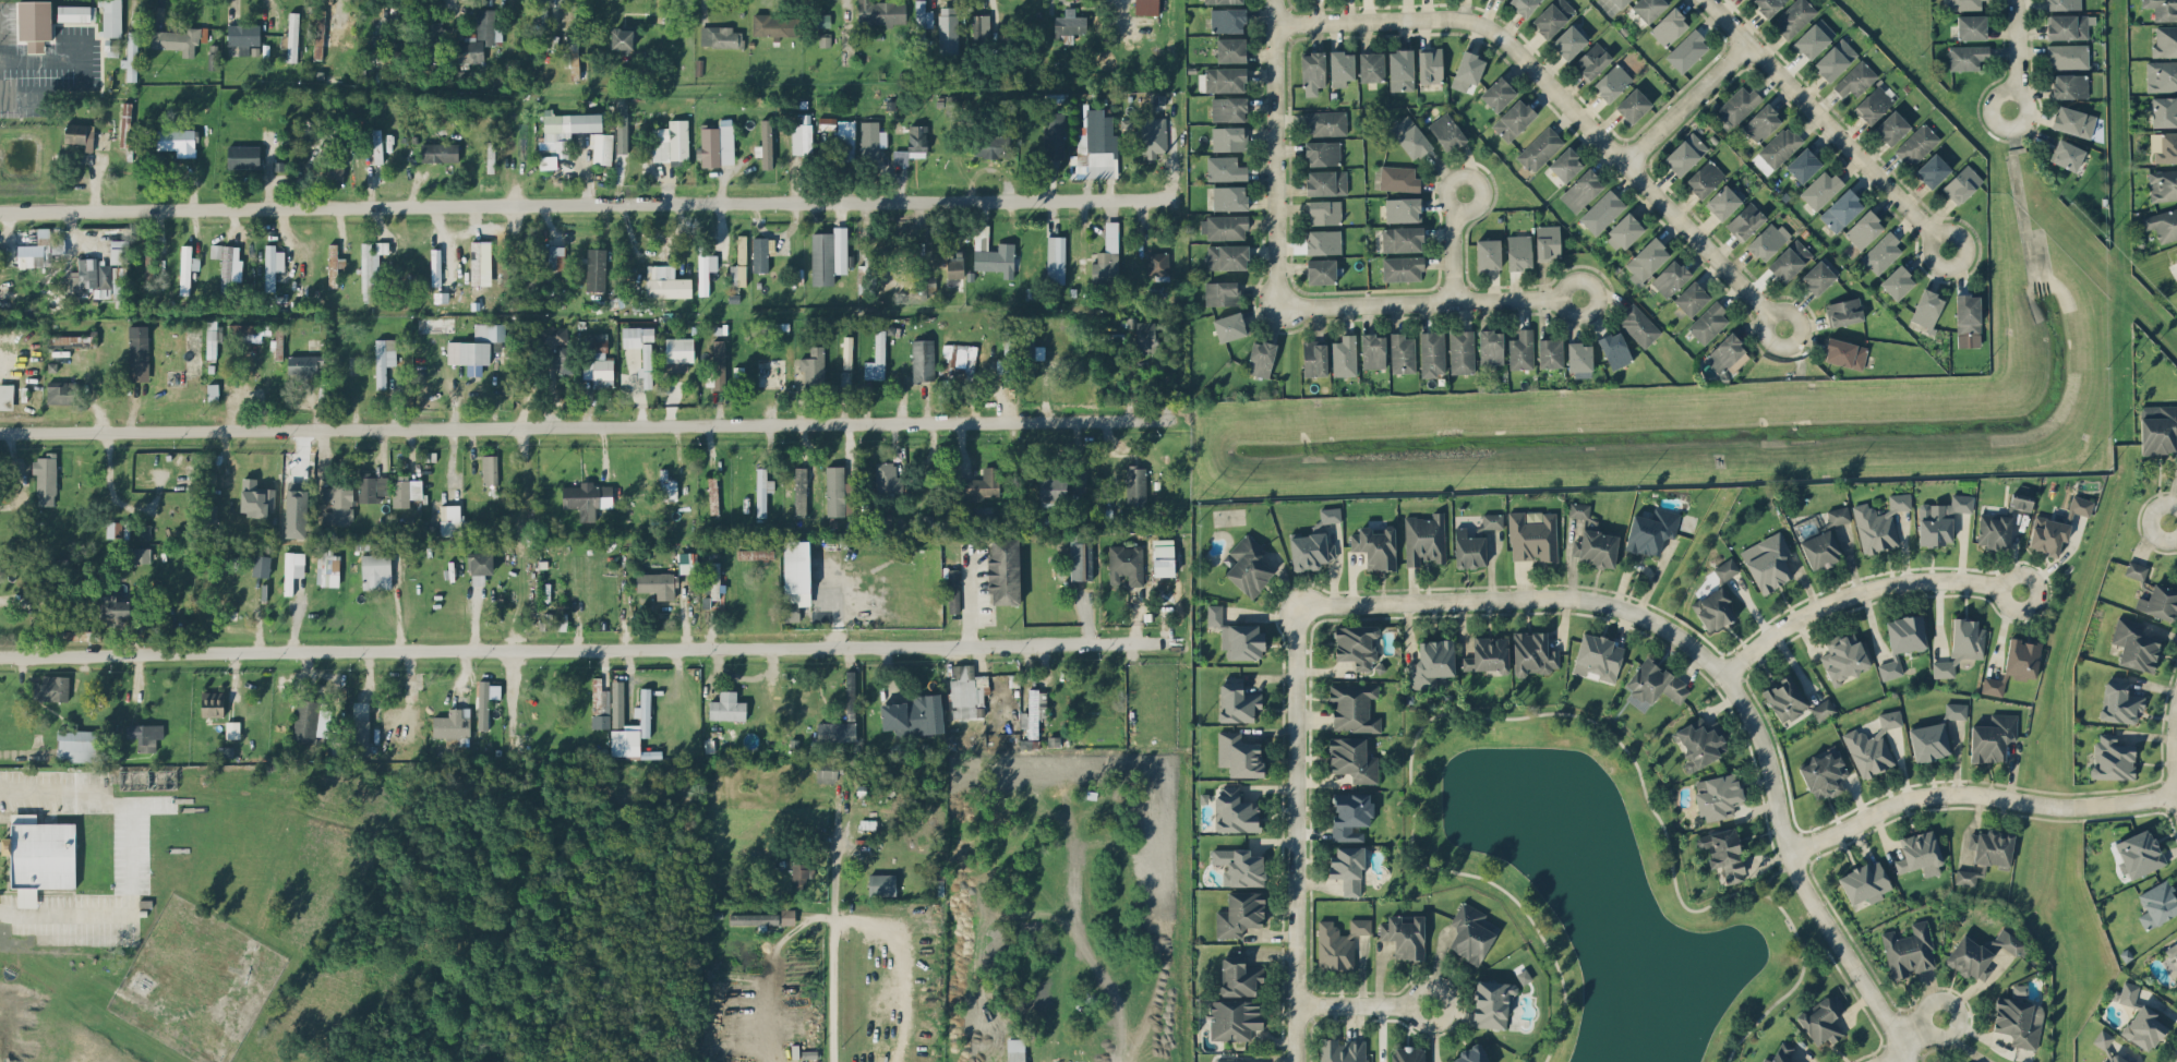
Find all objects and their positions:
building: (1223, 1)
building: (1621, 2)
building: (1963, 4)
building: (2064, 4)
building: (1524, 5)
building: (1768, 5)
building: (1146, 7)
building: (1648, 8)
building: (2162, 9)
building: (75, 12)
building: (880, 12)
building: (540, 14)
building: (924, 14)
building: (1552, 16)
building: (111, 17)
building: (1794, 17)
building: (822, 19)
building: (1227, 20)
building: (35, 23)
building: (1069, 23)
park: (1903, 24)
building: (772, 25)
building: (2068, 25)
building: (1669, 26)
building: (1971, 26)
building: (326, 27)
building: (981, 27)
building: (948, 29)
building: (292, 36)
building: (720, 36)
building: (477, 37)
building: (243, 38)
building: (623, 38)
building: (1814, 38)
building: (179, 39)
building: (430, 41)
building: (1568, 41)
building: (2165, 41)
building: (112, 46)
building: (1231, 49)
building: (1687, 50)
road: (2013, 55)
building: (131, 56)
building: (2067, 56)
building: (394, 57)
building: (1966, 57)
building: (1835, 59)
building: (1591, 61)
building: (1430, 64)
building: (1340, 67)
building: (1371, 67)
building: (1469, 67)
building: (1400, 69)
building: (1312, 72)
building: (2161, 75)
building: (1855, 79)
building: (1222, 80)
building: (1612, 82)
building: (2069, 85)
building: (1498, 93)
road: (1559, 101)
road: (1682, 104)
building: (1739, 104)
building: (1873, 104)
building: (1633, 105)
building: (1228, 108)
building: (2164, 111)
building: (1513, 119)
building: (2073, 121)
building: (827, 122)
building: (1325, 122)
building: (1761, 122)
road: (1825, 123)
building: (1891, 126)
building: (566, 129)
building: (1446, 131)
building: (394, 133)
building: (80, 134)
building: (1054, 134)
building: (1410, 136)
building: (801, 137)
building: (916, 137)
building: (1228, 137)
building: (846, 138)
building: (870, 138)
building: (177, 140)
building: (671, 141)
building: (1150, 141)
building: (333, 143)
building: (717, 143)
building: (765, 144)
building: (1916, 144)
building: (376, 145)
building: (993, 145)
building: (1780, 146)
building: (602, 147)
building: (1095, 147)
building: (2164, 147)
building: (1540, 148)
building: (438, 152)
road: (1272, 153)
building: (1322, 153)
building: (1685, 153)
building: (2067, 154)
building: (243, 156)
building: (900, 157)
building: (548, 161)
building: (1565, 164)
building: (1803, 165)
building: (328, 168)
building: (1225, 168)
building: (1933, 170)
building: (1398, 178)
building: (1704, 178)
building: (1326, 182)
building: (1962, 183)
building: (2163, 184)
building: (1820, 189)
building: (1581, 190)
building: (1229, 197)
building: (1724, 201)
road: (588, 204)
building: (1403, 209)
building: (1841, 209)
building: (1323, 212)
building: (1602, 212)
building: (1745, 220)
building: (2163, 224)
building: (1224, 227)
building: (1864, 229)
building: (1623, 231)
building: (1402, 239)
building: (1767, 240)
building: (1323, 241)
building: (1548, 241)
building: (771, 245)
road: (1451, 245)
building: (41, 248)
building: (741, 249)
building: (118, 251)
building: (1518, 251)
building: (2176, 251)
building: (1881, 252)
building: (759, 253)
building: (1488, 253)
building: (828, 255)
building: (556, 256)
building: (994, 256)
building: (1107, 256)
building: (1227, 256)
building: (1055, 258)
building: (1646, 260)
building: (1790, 260)
building: (474, 262)
building: (334, 263)
building: (1157, 263)
building: (227, 264)
building: (148, 265)
building: (272, 265)
building: (954, 265)
building: (370, 266)
building: (187, 267)
building: (596, 268)
building: (1403, 268)
building: (1321, 270)
building: (705, 271)
building: (84, 273)
building: (737, 274)
building: (1670, 277)
building: (1817, 277)
building: (111, 279)
building: (665, 281)
building: (1898, 281)
building: (1222, 292)
building: (1691, 298)
road: (1426, 301)
building: (1926, 309)
building: (1843, 311)
building: (1968, 314)
building: (1708, 322)
building: (1638, 325)
building: (1229, 326)
building: (252, 331)
building: (555, 335)
building: (636, 335)
building: (212, 336)
building: (1145, 336)
building: (71, 340)
building: (476, 347)
building: (1491, 347)
building: (678, 349)
building: (1522, 349)
building: (1614, 349)
building: (1373, 350)
building: (847, 351)
building: (1462, 351)
building: (139, 352)
building: (1402, 352)
building: (1550, 352)
building: (1844, 352)
building: (1432, 353)
building: (1031, 354)
building: (1727, 354)
building: (1344, 355)
building: (1008, 357)
building: (562, 358)
building: (877, 358)
building: (1261, 358)
building: (384, 359)
building: (923, 359)
building: (1314, 359)
building: (1580, 359)
building: (597, 360)
building: (959, 363)
building: (304, 365)
building: (646, 365)
building: (717, 366)
building: (813, 366)
building: (213, 390)
building: (62, 391)
building: (5, 396)
road: (585, 424)
building: (2157, 429)
building: (489, 469)
road: (15, 474)
building: (45, 478)
building: (887, 479)
building: (1079, 481)
building: (1135, 483)
building: (982, 484)
building: (666, 485)
building: (372, 486)
building: (405, 490)
building: (762, 491)
building: (799, 491)
building: (1051, 491)
building: (837, 492)
building: (712, 495)
building: (256, 497)
building: (587, 497)
building: (2020, 500)
building: (337, 504)
building: (2081, 505)
building: (296, 509)
building: (211, 512)
building: (984, 515)
building: (1330, 515)
building: (1838, 515)
building: (450, 519)
building: (1940, 519)
building: (1492, 520)
building: (1878, 523)
road: (2172, 526)
building: (113, 529)
building: (425, 530)
building: (1651, 530)
building: (1994, 530)
building: (2047, 534)
building: (1532, 536)
building: (1424, 538)
building: (1591, 538)
building: (1375, 546)
building: (1469, 548)
building: (1820, 550)
building: (1310, 551)
building: (755, 553)
building: (141, 554)
building: (1163, 556)
building: (1077, 560)
building: (1768, 560)
building: (1126, 564)
building: (261, 565)
building: (1248, 565)
building: (480, 566)
building: (292, 569)
building: (327, 569)
building: (1725, 569)
building: (2136, 569)
building: (375, 570)
building: (796, 571)
building: (1003, 571)
building: (57, 572)
building: (714, 580)
building: (658, 583)
building: (952, 590)
road: (1857, 590)
building: (2158, 602)
road: (1610, 607)
building: (1713, 608)
building: (111, 610)
building: (1214, 614)
building: (560, 620)
building: (1966, 638)
building: (1242, 640)
building: (1902, 641)
building: (1356, 644)
building: (2136, 644)
road: (587, 648)
building: (1532, 653)
building: (1488, 654)
building: (1844, 656)
building: (1598, 657)
building: (2021, 659)
building: (1431, 663)
building: (1943, 668)
building: (1653, 684)
building: (1992, 686)
building: (51, 688)
building: (966, 691)
building: (850, 695)
building: (599, 697)
building: (1784, 698)
building: (1237, 702)
building: (2121, 702)
building: (212, 703)
building: (483, 704)
building: (1354, 705)
building: (726, 707)
building: (1823, 709)
building: (1956, 710)
building: (1034, 711)
road: (1544, 712)
building: (913, 715)
building: (305, 720)
building: (600, 721)
building: (452, 723)
building: (633, 728)
building: (231, 729)
building: (835, 731)
building: (145, 735)
building: (359, 736)
building: (1993, 737)
building: (1928, 740)
building: (1700, 743)
building: (80, 745)
building: (1872, 746)
road: (2169, 748)
building: (1239, 755)
building: (2112, 758)
building: (1352, 759)
building: (828, 770)
building: (1824, 773)
road: (56, 791)
road: (1973, 795)
building: (1718, 796)
building: (1235, 811)
building: (1350, 814)
road: (1292, 834)
building: (1992, 846)
building: (1920, 853)
building: (2139, 853)
building: (1722, 854)
building: (39, 855)
building: (1239, 866)
building: (1347, 868)
building: (801, 873)
road: (1770, 874)
building: (1965, 877)
building: (1865, 882)
building: (881, 883)
building: (2157, 904)
road: (69, 913)
building: (1240, 913)
building: (787, 916)
building: (754, 918)
building: (1471, 932)
road: (830, 936)
building: (1405, 936)
building: (1338, 942)
building: (2011, 942)
building: (1908, 951)
building: (2173, 952)
road: (1842, 955)
building: (1970, 957)
road: (769, 970)
building: (1239, 977)
building: (2128, 992)
road: (1851, 993)
building: (1493, 1003)
road: (1361, 1004)
building: (1235, 1017)
building: (2018, 1017)
building: (1823, 1019)
road: (1915, 1027)
building: (2143, 1027)
building: (2102, 1038)
building: (1343, 1050)
building: (1408, 1053)
building: (1781, 1053)
building: (1470, 1055)
road: (1888, 1058)
road: (1895, 1058)
building: (2121, 1058)
building: (1229, 1060)
road: (2176, 1061)

